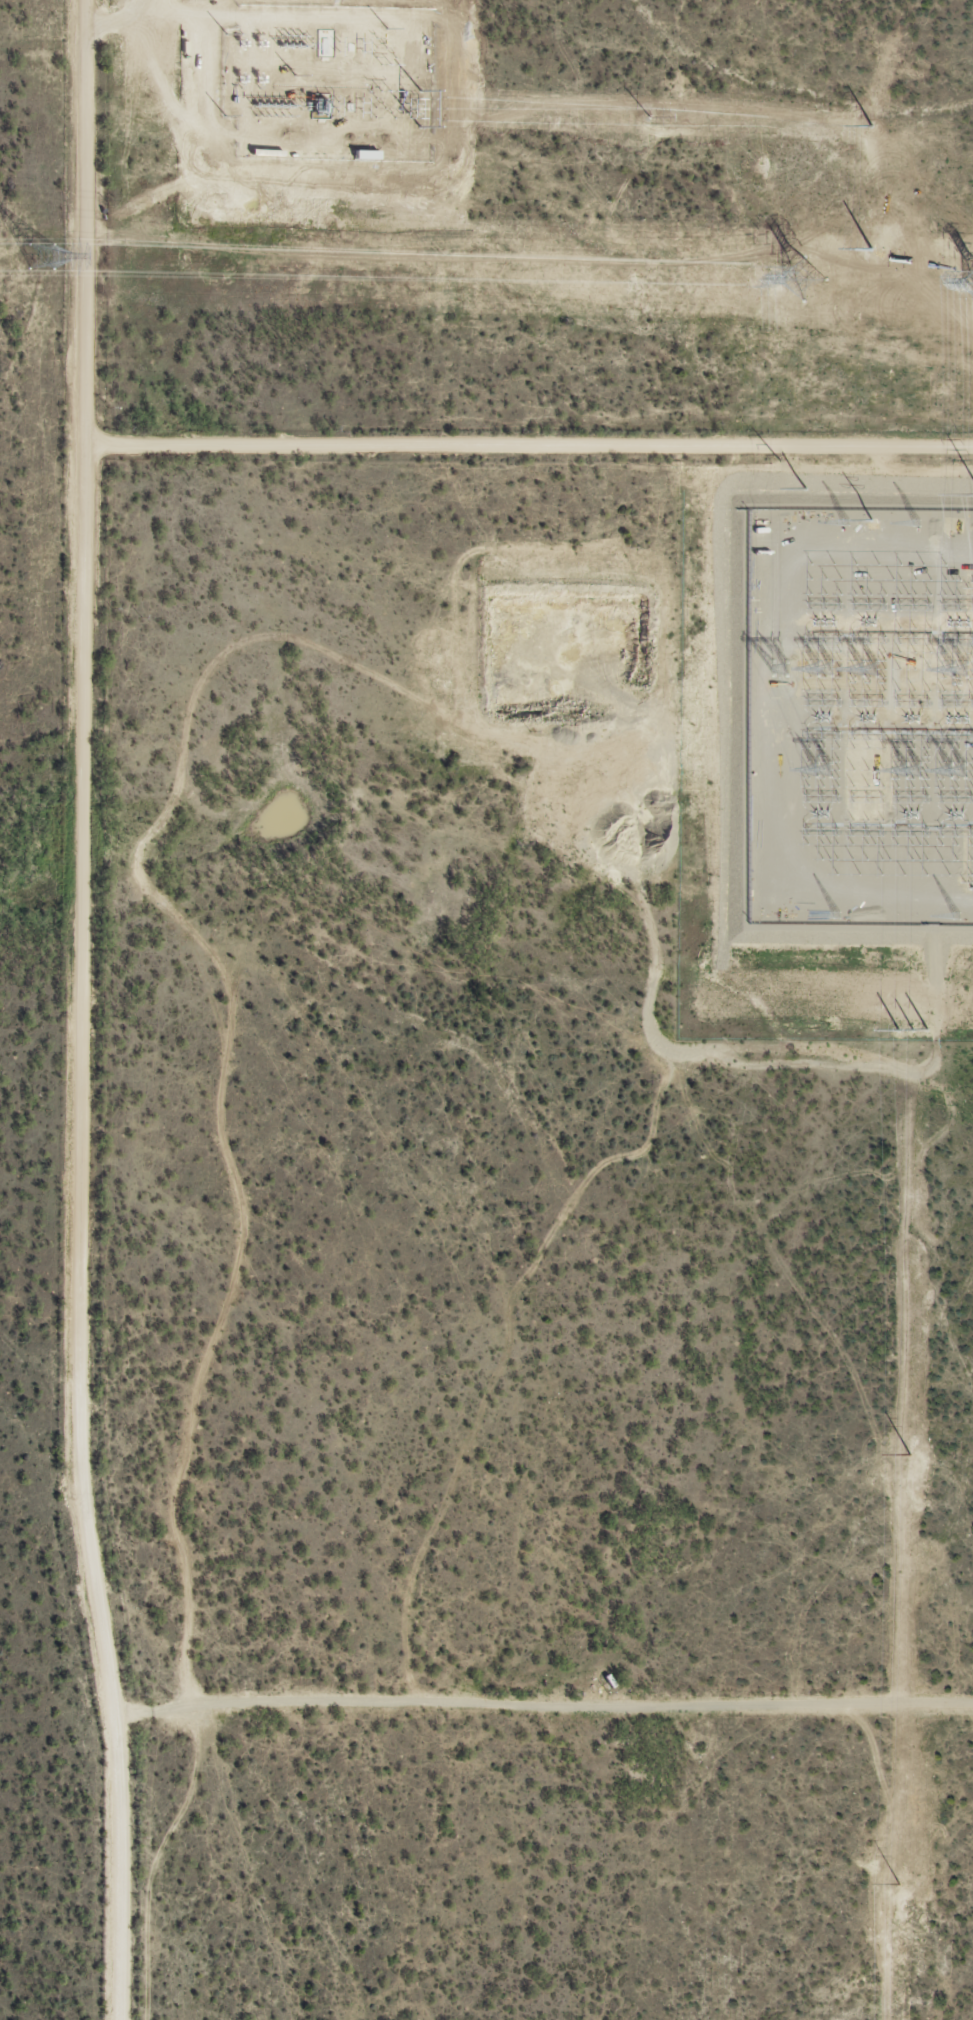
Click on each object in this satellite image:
power substation: (327, 81)
power tower: (415, 106)
power tower: (646, 115)
power tower: (870, 122)
power tower: (870, 243)
power tower: (43, 255)
power tower: (789, 278)
road: (529, 445)
power tower: (800, 486)
power tower: (867, 519)
power substation: (860, 715)
road: (277, 798)
road: (78, 1011)
power tower: (910, 1025)
road: (228, 1028)
road: (543, 1703)

